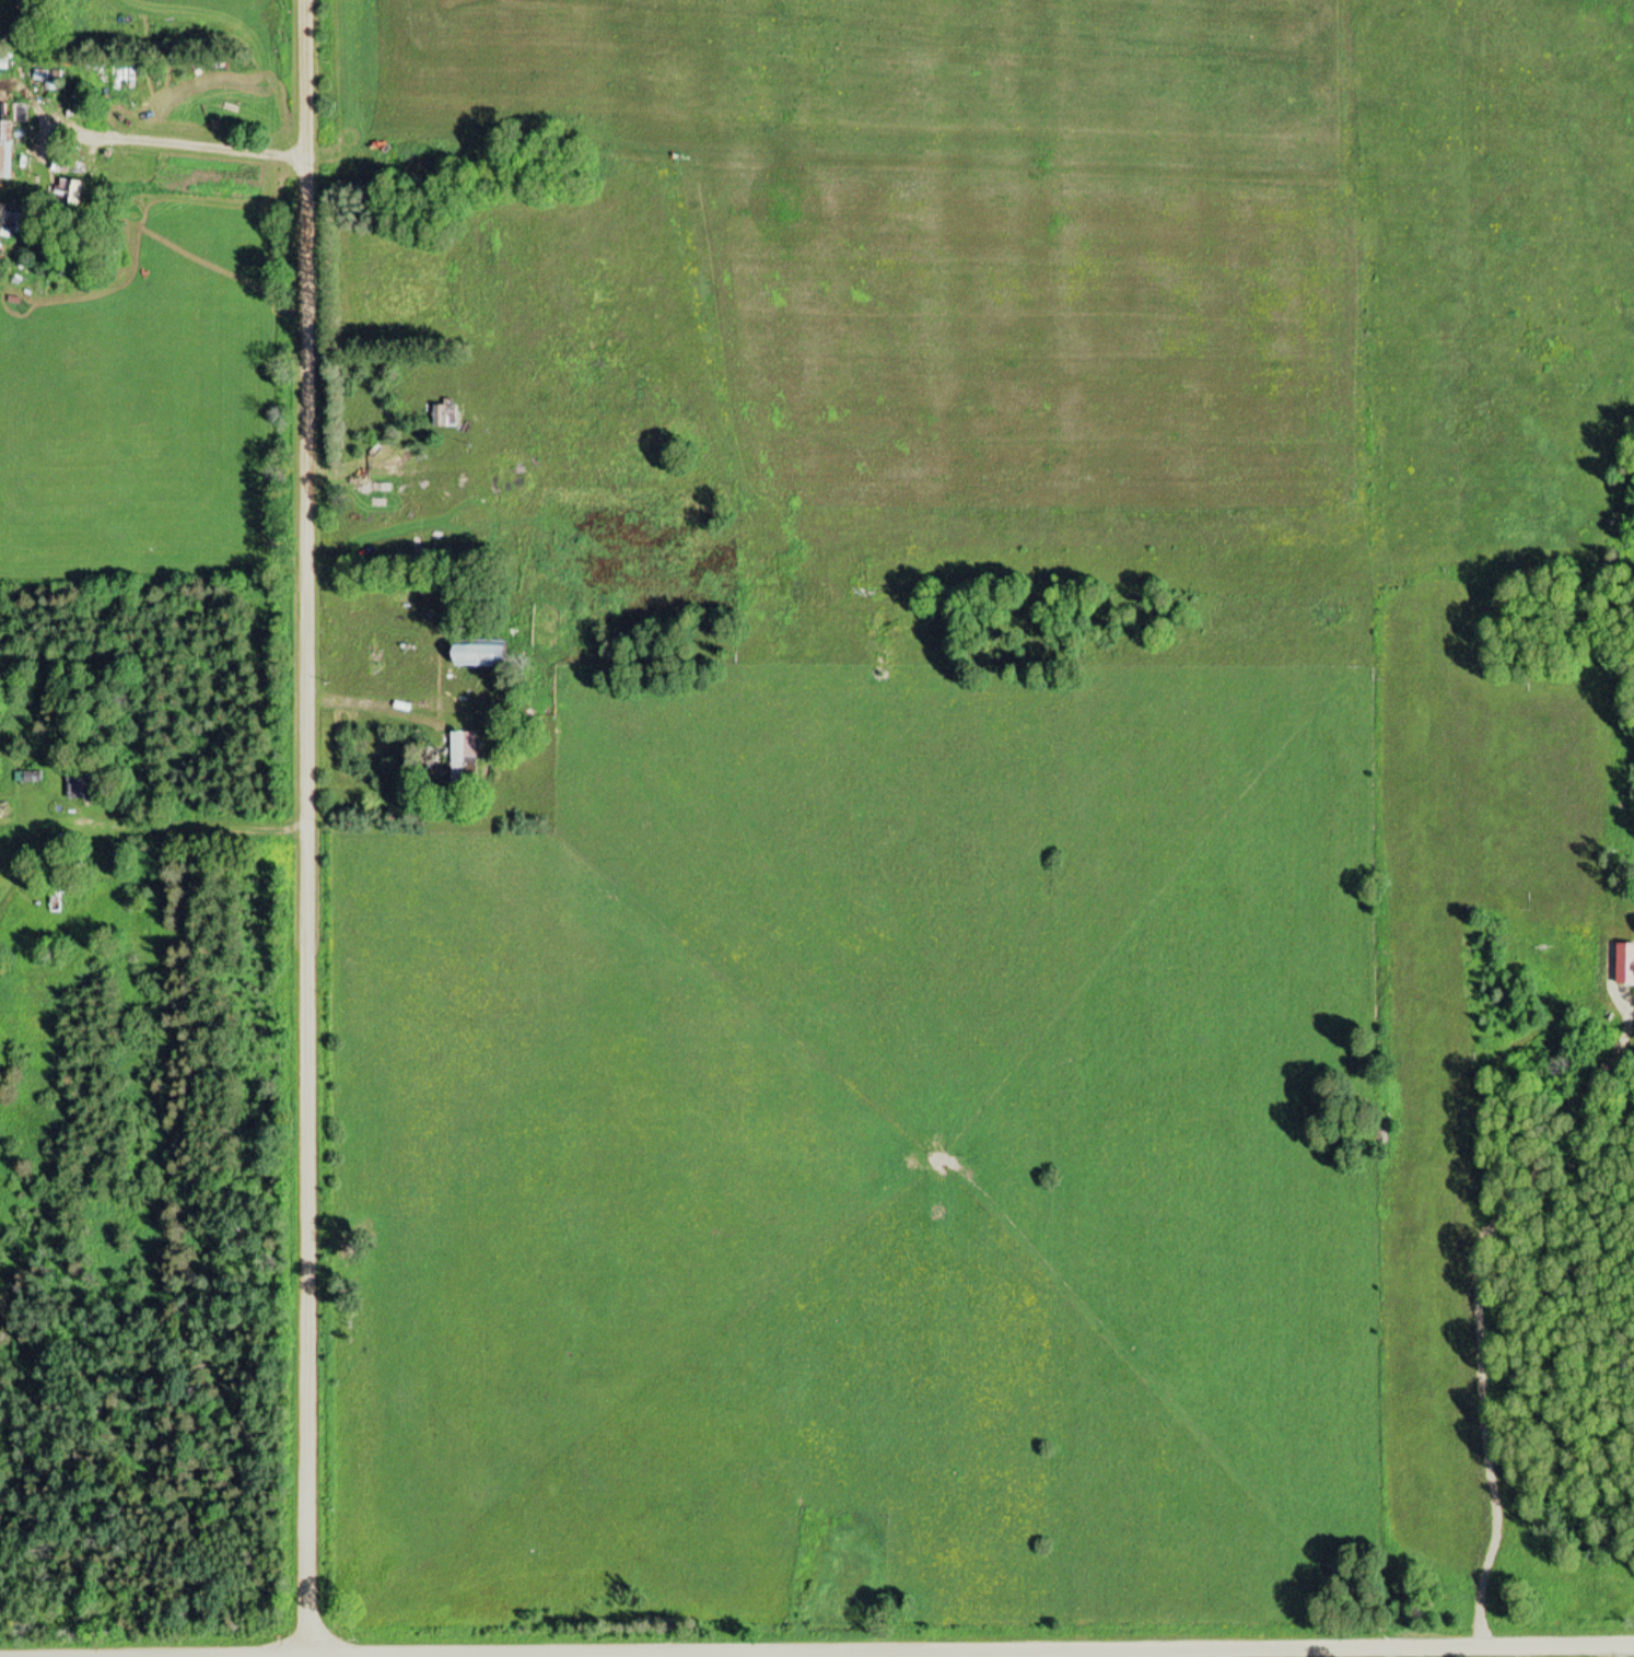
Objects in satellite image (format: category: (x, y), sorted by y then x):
building: (4, 150)
building: (66, 194)
building: (443, 416)
building: (472, 656)
building: (463, 755)
road: (312, 828)
road: (976, 1653)

